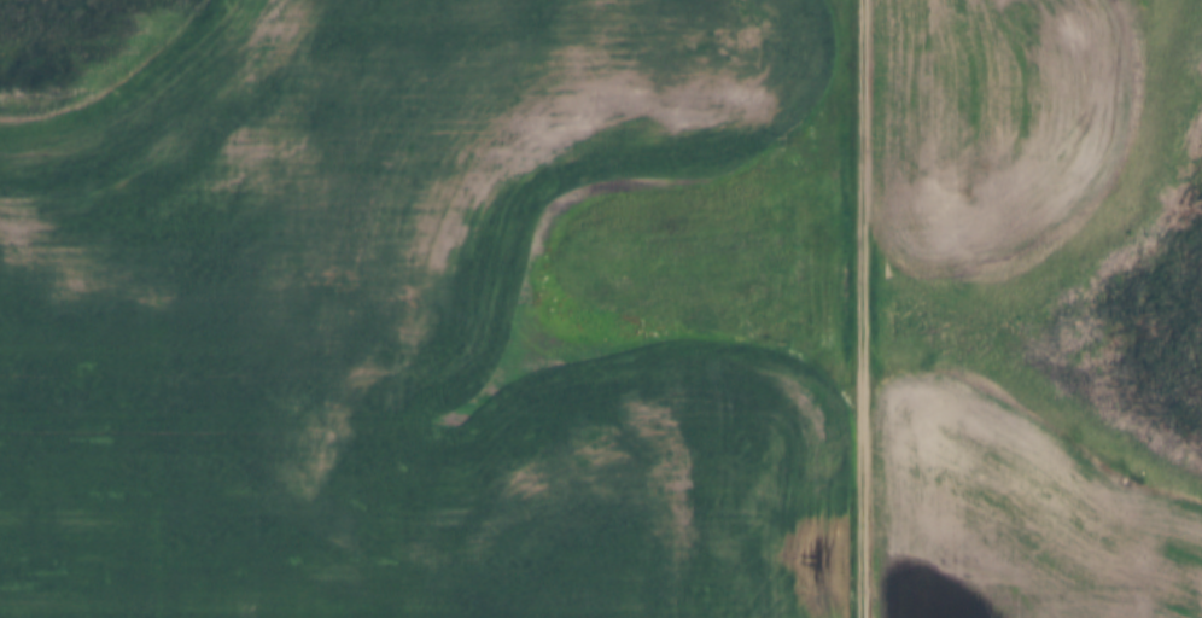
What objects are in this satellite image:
road: (865, 309)

